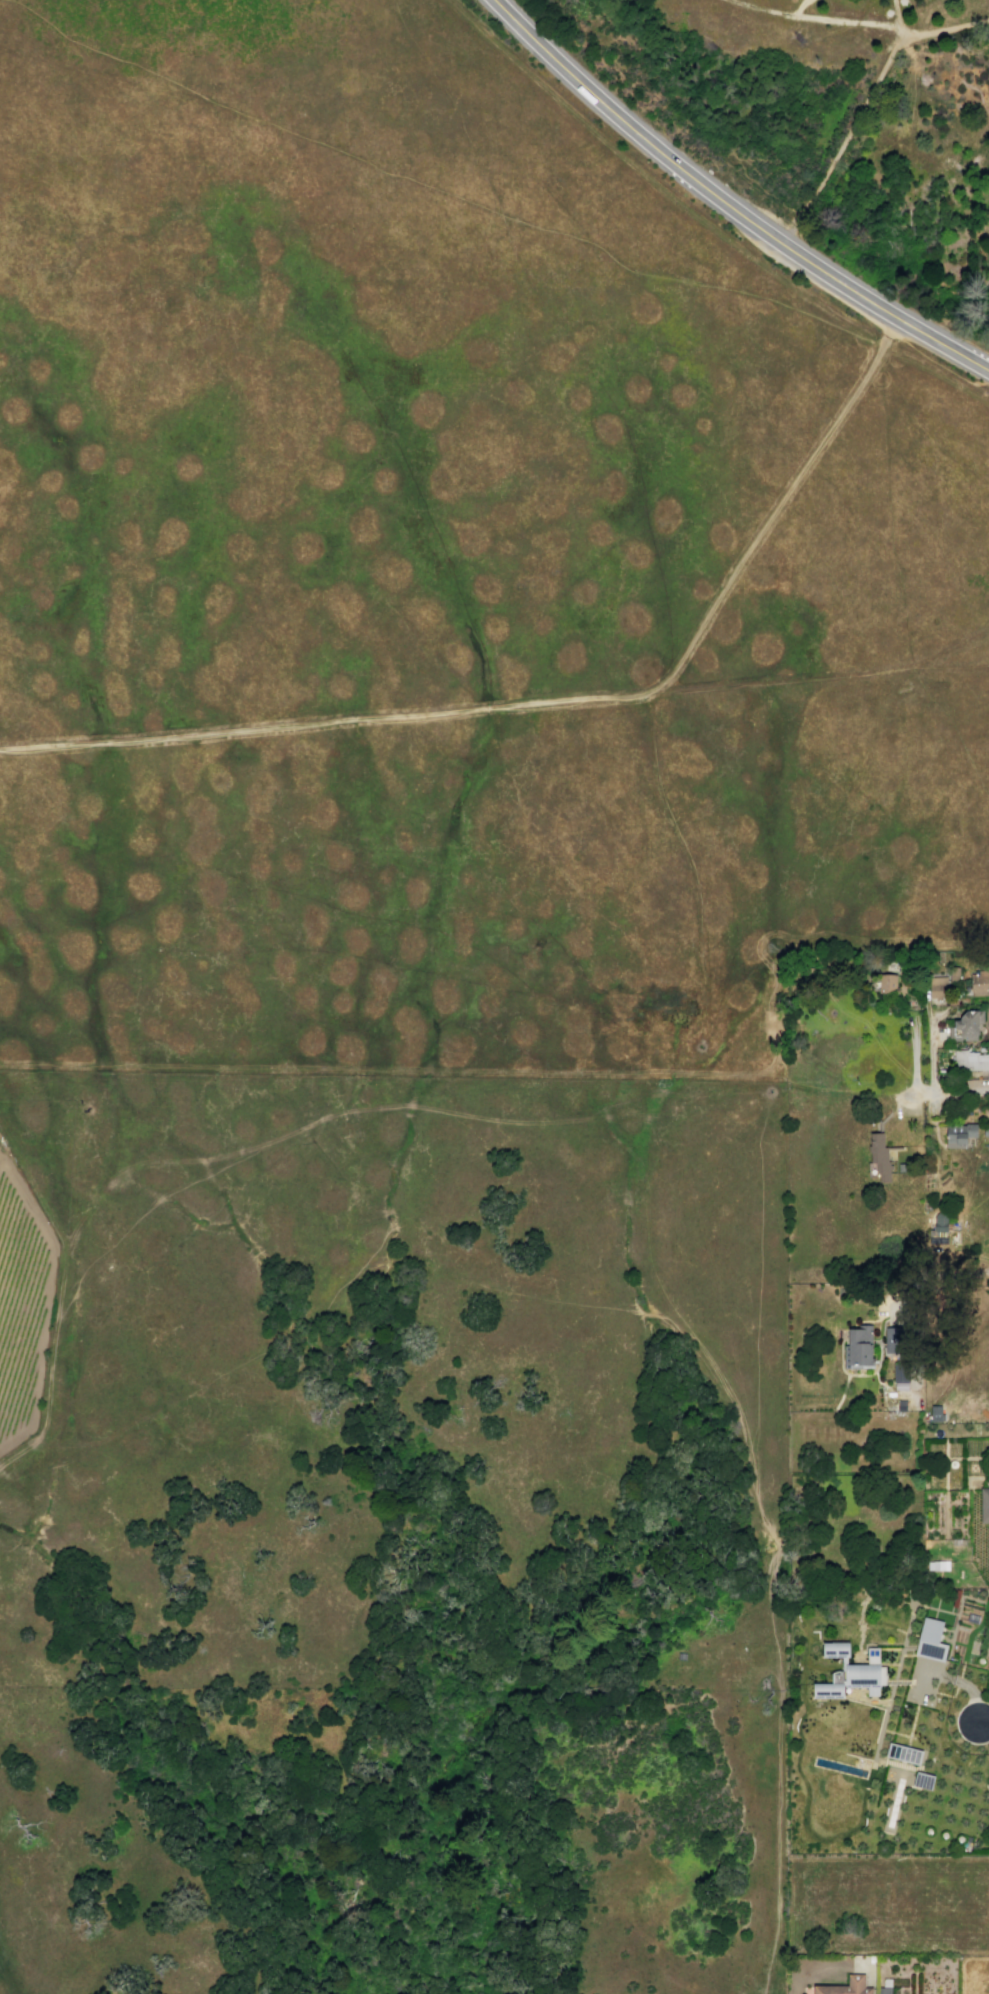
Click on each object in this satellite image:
road: (5, 0)
road: (799, 7)
road: (811, 18)
road: (452, 104)
road: (865, 104)
road: (912, 110)
road: (440, 191)
road: (727, 204)
road: (926, 379)
road: (887, 384)
road: (908, 606)
road: (657, 699)
road: (550, 704)
building: (886, 984)
building: (978, 985)
building: (937, 987)
building: (966, 1026)
road: (931, 1049)
road: (914, 1054)
building: (969, 1061)
road: (951, 1088)
road: (298, 1130)
building: (960, 1134)
building: (879, 1157)
building: (902, 1167)
road: (629, 1176)
building: (940, 1222)
road: (52, 1227)
road: (939, 1282)
building: (894, 1339)
building: (859, 1345)
building: (901, 1373)
crop: (392, 1383)
building: (901, 1386)
building: (890, 1394)
road: (969, 1397)
road: (47, 1403)
building: (901, 1405)
building: (936, 1413)
building: (987, 1476)
building: (984, 1505)
building: (937, 1565)
building: (932, 1639)
building: (682, 1656)
building: (853, 1671)
road: (950, 1678)
road: (983, 1723)
building: (903, 1753)
building: (923, 1780)
road: (781, 1840)
building: (845, 1986)
building: (884, 1990)

